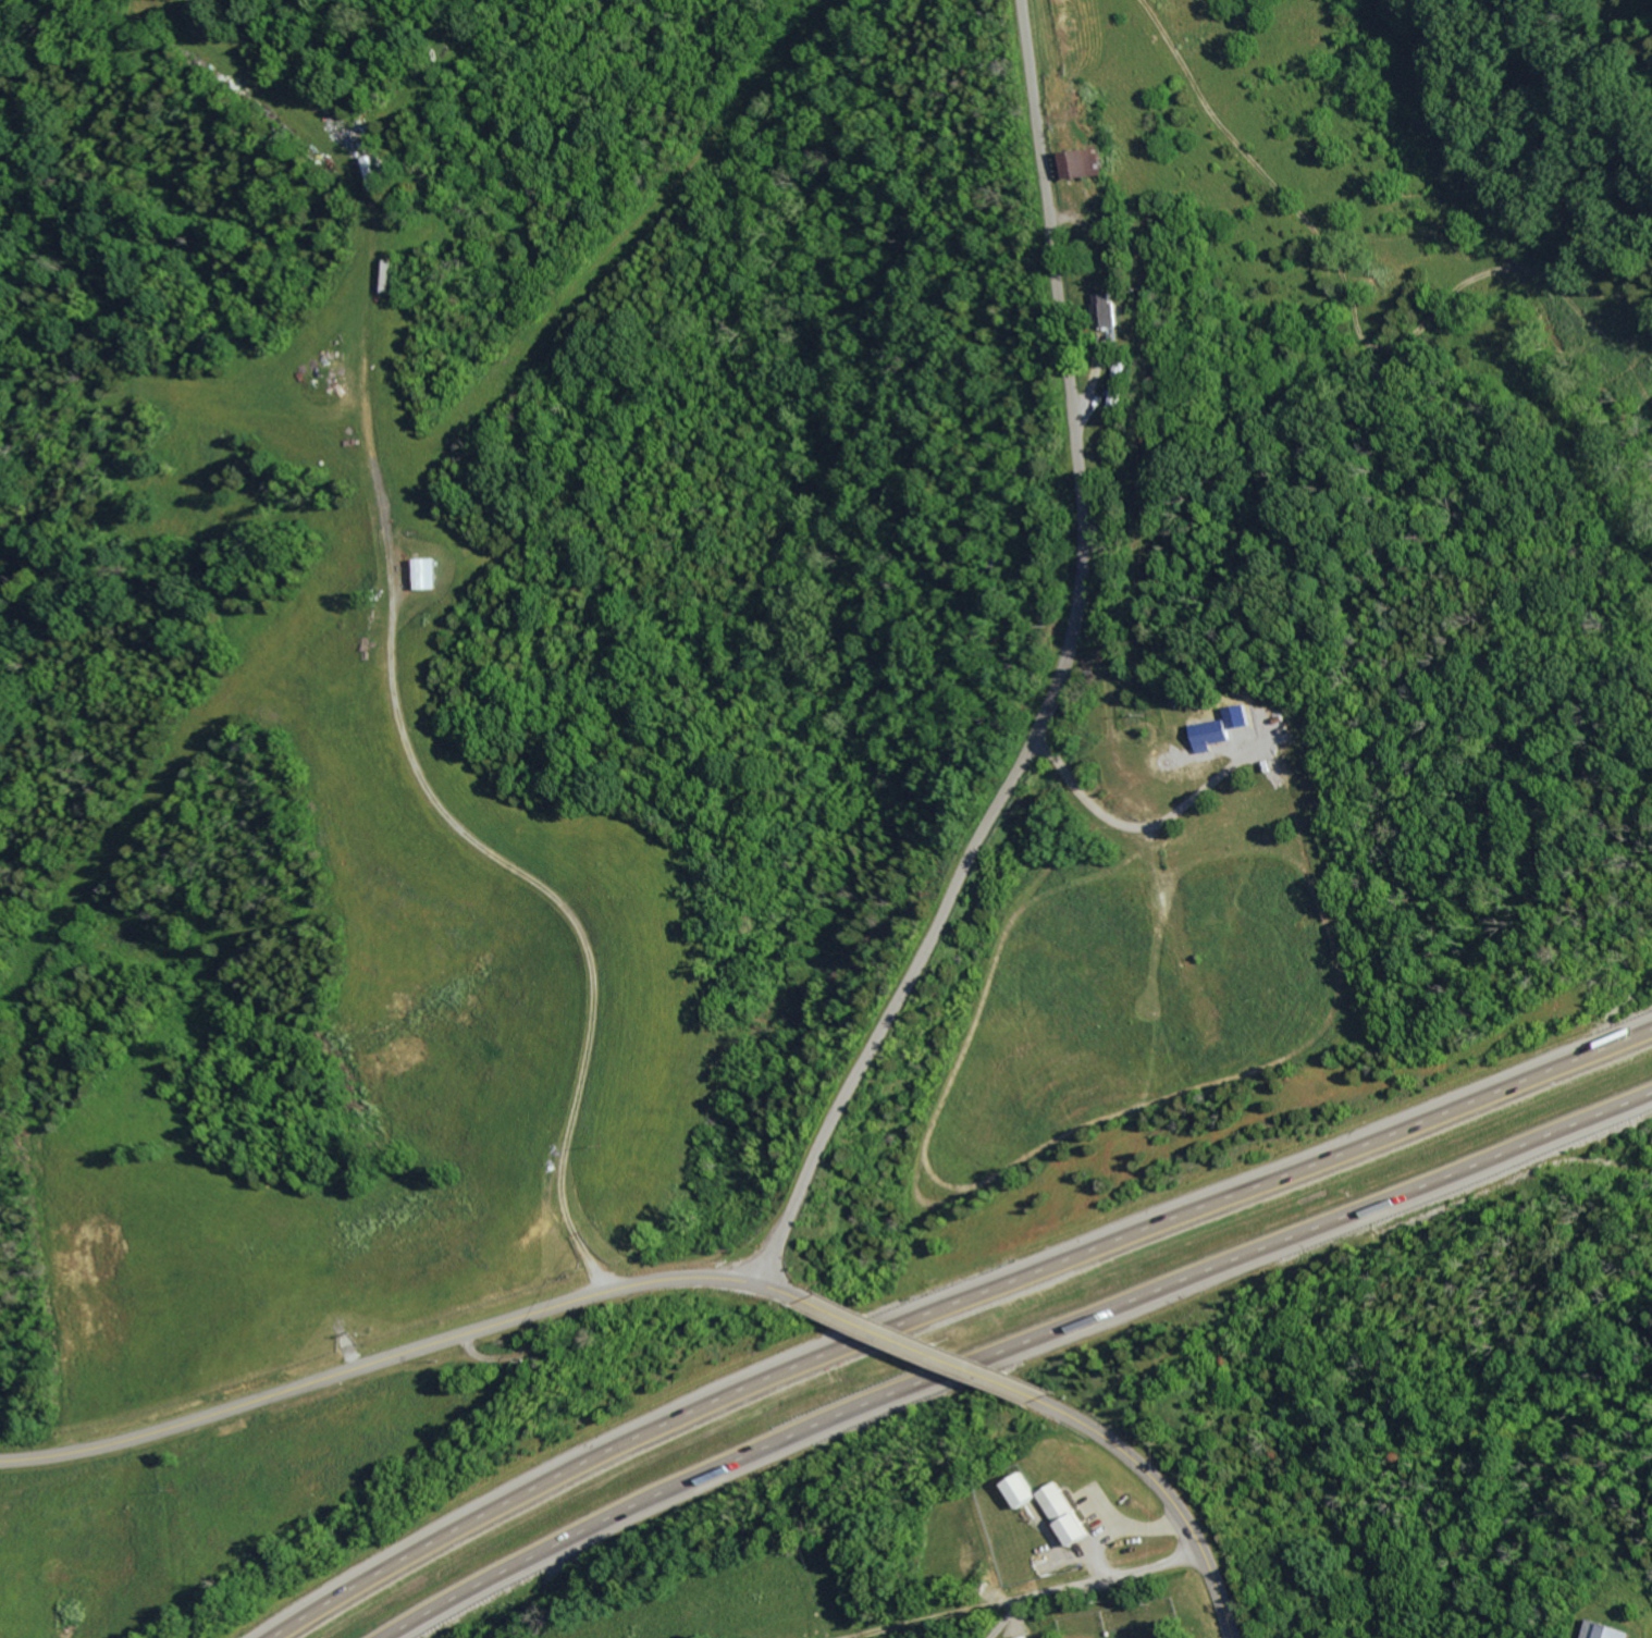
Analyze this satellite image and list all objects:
building: (1086, 163)
building: (1112, 310)
building: (1119, 395)
road: (1061, 675)
building: (1210, 734)
road: (949, 1301)
road: (1016, 1348)
road: (926, 1353)
road: (398, 1355)
building: (1022, 1489)
road: (1172, 1501)
building: (1065, 1514)
road: (1121, 1530)
road: (1089, 1581)
building: (1605, 1630)
building: (1031, 1637)

